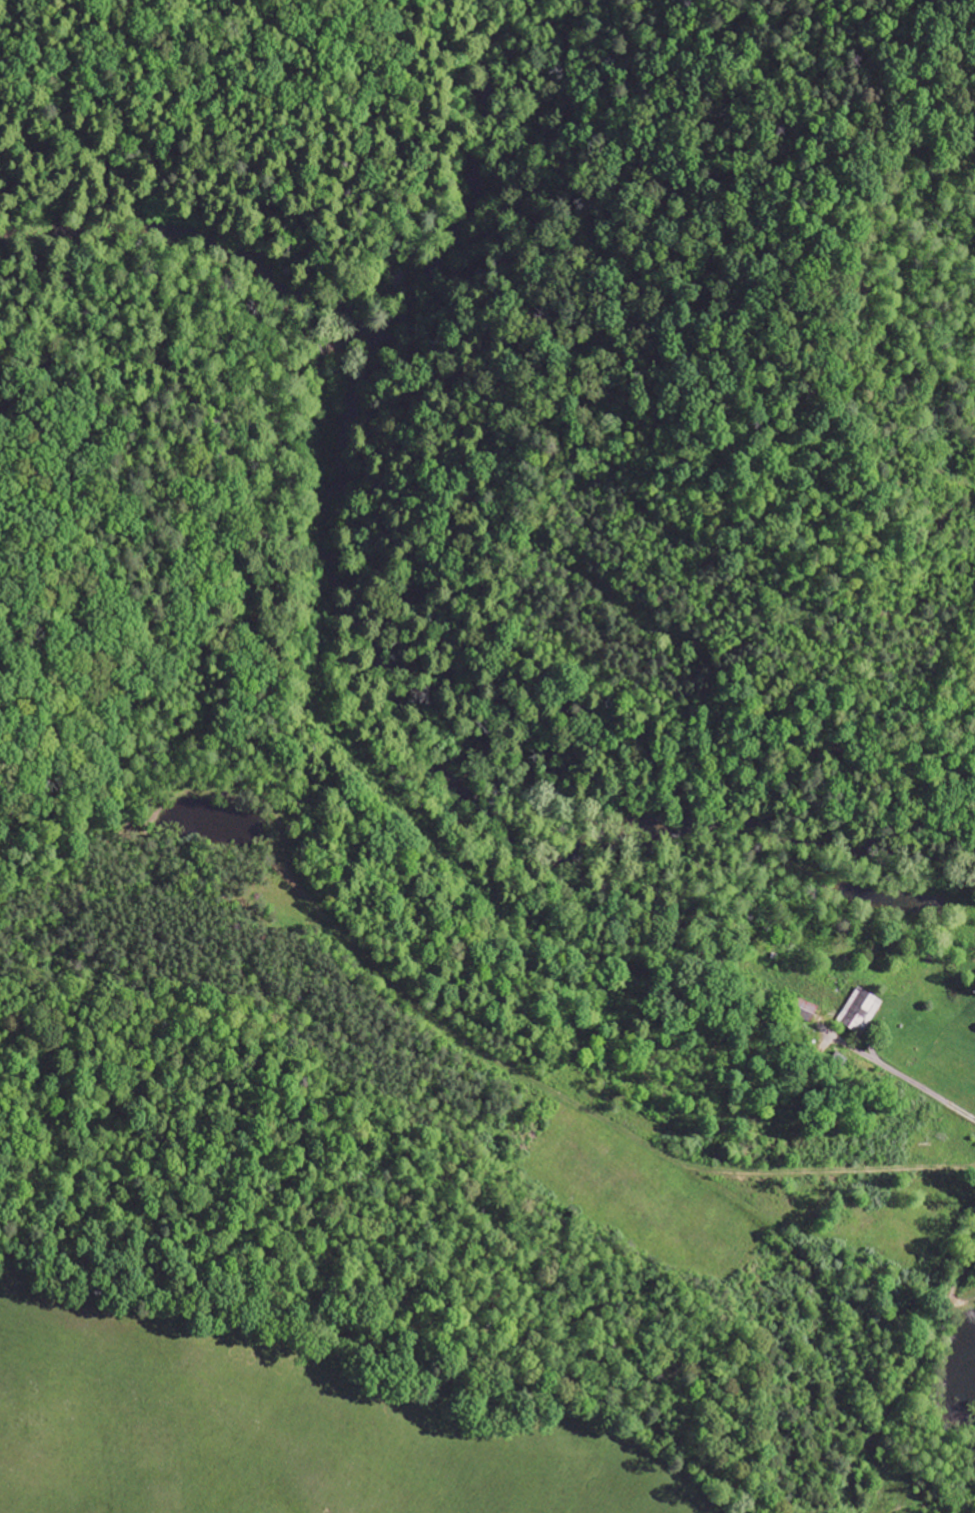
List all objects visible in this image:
road: (504, 66)
road: (346, 226)
park: (522, 251)
building: (861, 1011)

